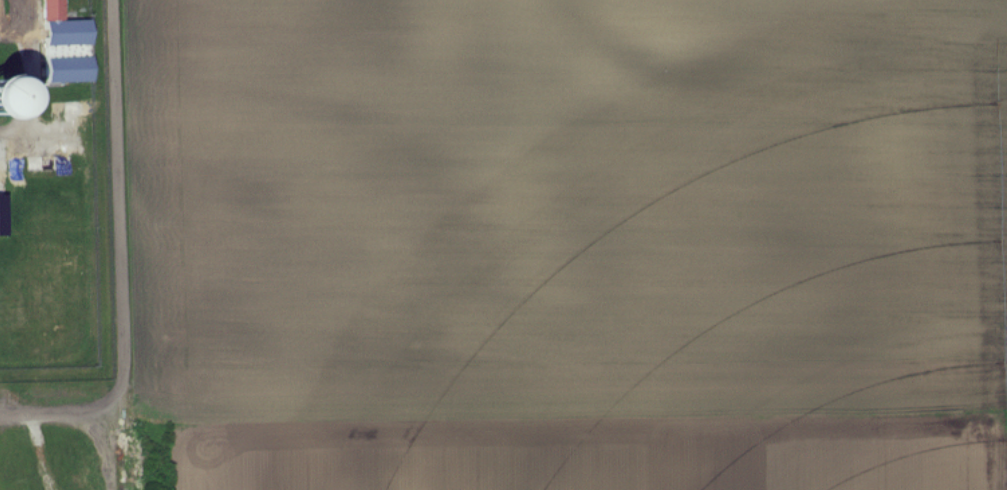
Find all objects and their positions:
building: (66, 46)
road: (119, 261)

